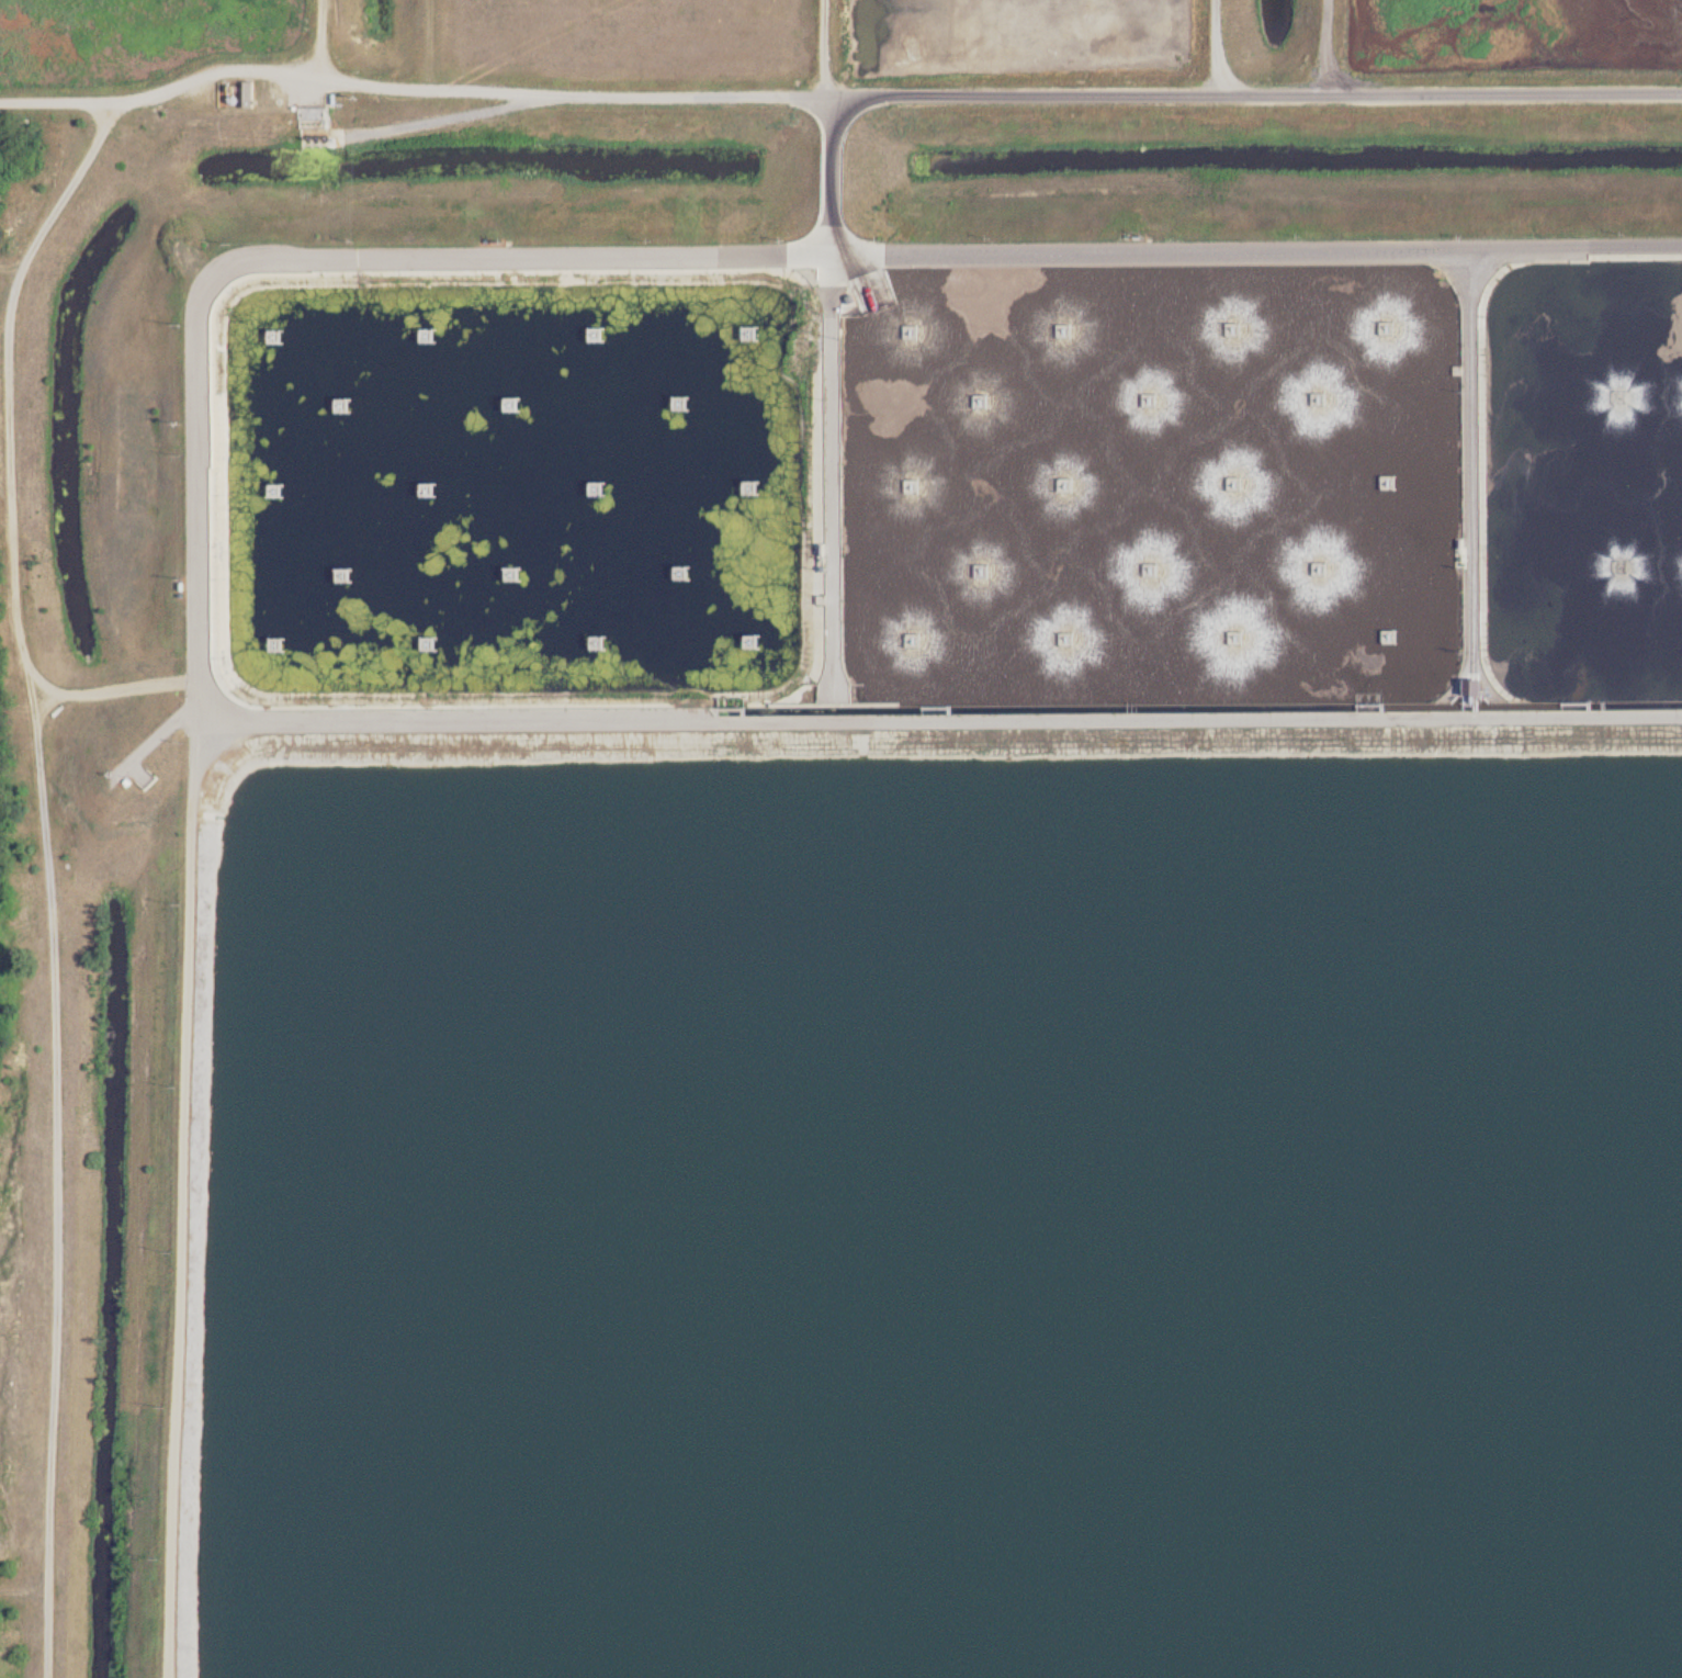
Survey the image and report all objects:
building: (250, 93)
road: (112, 121)
building: (1392, 327)
building: (916, 331)
building: (430, 334)
building: (1155, 399)
building: (1071, 484)
building: (600, 488)
building: (1156, 570)
building: (987, 571)
building: (432, 643)
wastewater plant: (840, 838)
road: (187, 1198)

